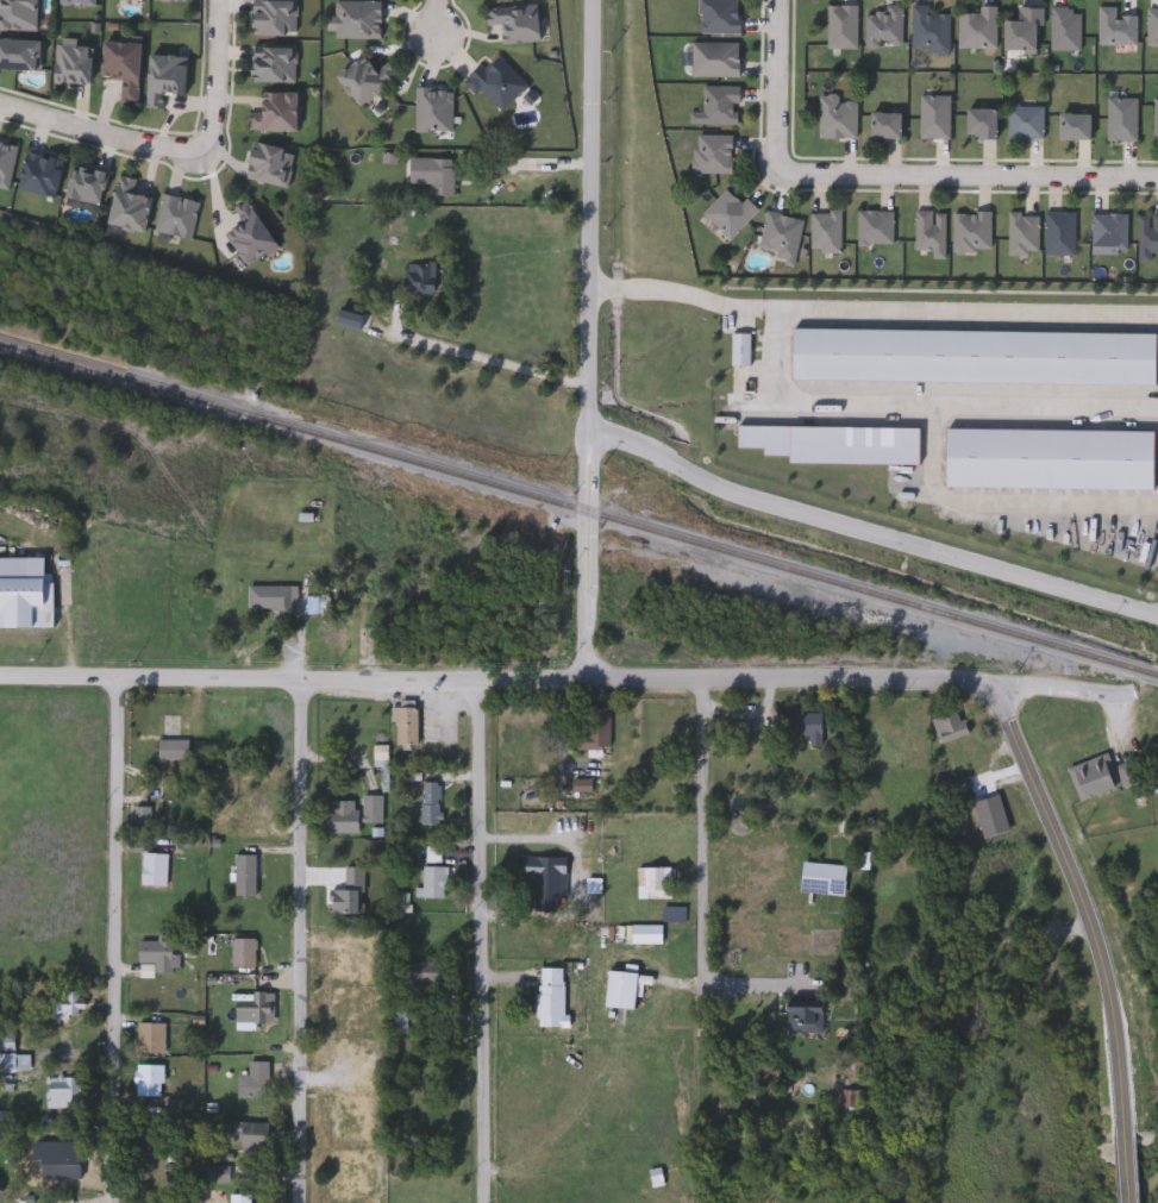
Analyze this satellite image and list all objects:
building: (171, 0)
building: (80, 2)
building: (275, 17)
building: (720, 17)
building: (359, 19)
building: (518, 21)
road: (430, 23)
building: (843, 27)
building: (885, 27)
building: (978, 29)
building: (1116, 29)
building: (1153, 29)
building: (1066, 30)
building: (929, 31)
building: (1027, 31)
building: (21, 54)
building: (716, 61)
building: (275, 63)
building: (124, 65)
road: (217, 76)
building: (165, 77)
building: (369, 77)
building: (497, 83)
building: (719, 106)
building: (434, 109)
building: (277, 112)
building: (838, 118)
building: (935, 118)
building: (1121, 120)
building: (1156, 120)
building: (1026, 123)
building: (984, 124)
building: (888, 125)
building: (1072, 127)
road: (101, 132)
building: (714, 153)
building: (273, 163)
road: (531, 165)
building: (42, 173)
building: (434, 174)
road: (883, 174)
building: (88, 184)
road: (215, 195)
building: (132, 203)
building: (731, 213)
building: (177, 214)
building: (876, 227)
building: (1110, 231)
building: (827, 232)
building: (971, 232)
building: (252, 233)
building: (931, 233)
building: (1024, 234)
building: (1059, 234)
building: (783, 236)
building: (1148, 237)
building: (421, 277)
road: (677, 293)
road: (959, 312)
building: (1052, 324)
road: (591, 338)
building: (974, 357)
road: (492, 359)
building: (1019, 393)
road: (808, 403)
building: (830, 441)
road: (931, 449)
building: (1051, 456)
railway: (578, 507)
building: (1137, 526)
road: (870, 531)
building: (25, 599)
building: (275, 599)
road: (295, 678)
road: (793, 678)
road: (1063, 690)
building: (408, 727)
building: (808, 728)
building: (951, 728)
building: (600, 731)
building: (895, 740)
building: (180, 752)
building: (1108, 781)
building: (584, 787)
building: (434, 804)
building: (258, 808)
building: (356, 815)
building: (991, 817)
road: (701, 832)
road: (552, 840)
building: (424, 856)
building: (157, 870)
building: (248, 876)
building: (549, 879)
building: (656, 883)
building: (437, 884)
road: (1088, 910)
road: (113, 940)
road: (299, 941)
road: (487, 941)
building: (246, 954)
building: (161, 958)
building: (346, 966)
building: (428, 975)
building: (625, 991)
building: (555, 998)
building: (69, 1007)
building: (259, 1011)
building: (405, 1021)
building: (154, 1039)
building: (8, 1044)
building: (889, 1064)
building: (17, 1065)
building: (151, 1083)
building: (257, 1083)
building: (369, 1088)
building: (68, 1094)
building: (834, 1099)
building: (255, 1135)
building: (71, 1158)
road: (1128, 1174)
building: (221, 1176)
building: (633, 1180)
building: (244, 1199)

